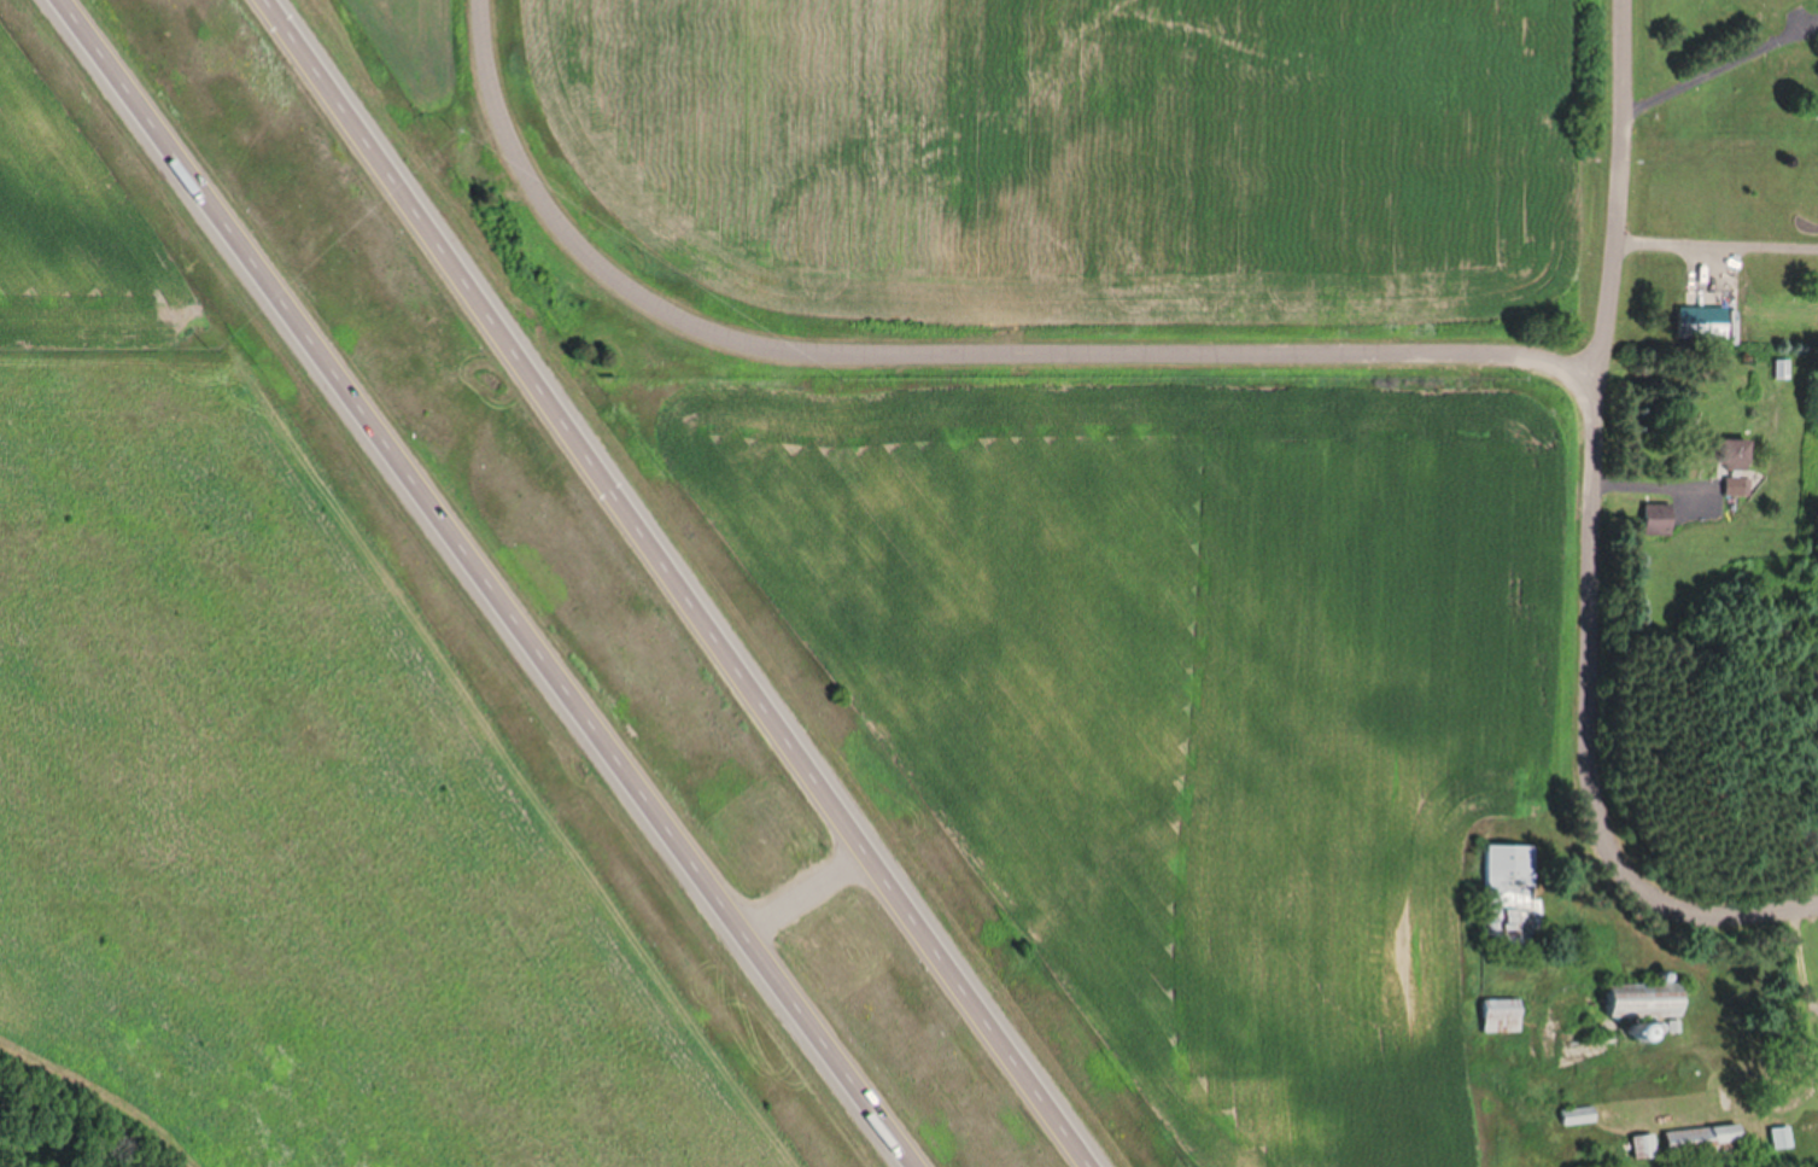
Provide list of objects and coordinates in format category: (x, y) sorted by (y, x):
building: (271, 14)
road: (1703, 72)
building: (1814, 109)
road: (1612, 189)
road: (1713, 243)
building: (1708, 313)
road: (933, 356)
building: (1788, 361)
building: (1778, 369)
building: (1738, 447)
building: (1746, 477)
road: (1647, 485)
building: (1662, 509)
building: (1653, 523)
road: (508, 583)
road: (674, 583)
road: (1580, 733)
building: (1512, 885)
road: (816, 895)
road: (1791, 961)
building: (1645, 996)
building: (1504, 1011)
building: (1678, 1021)
building: (1656, 1025)
building: (1641, 1027)
building: (1579, 1110)
building: (1726, 1130)
building: (1779, 1134)
building: (1689, 1136)
building: (1770, 1137)
building: (1643, 1142)
building: (1075, 1146)

